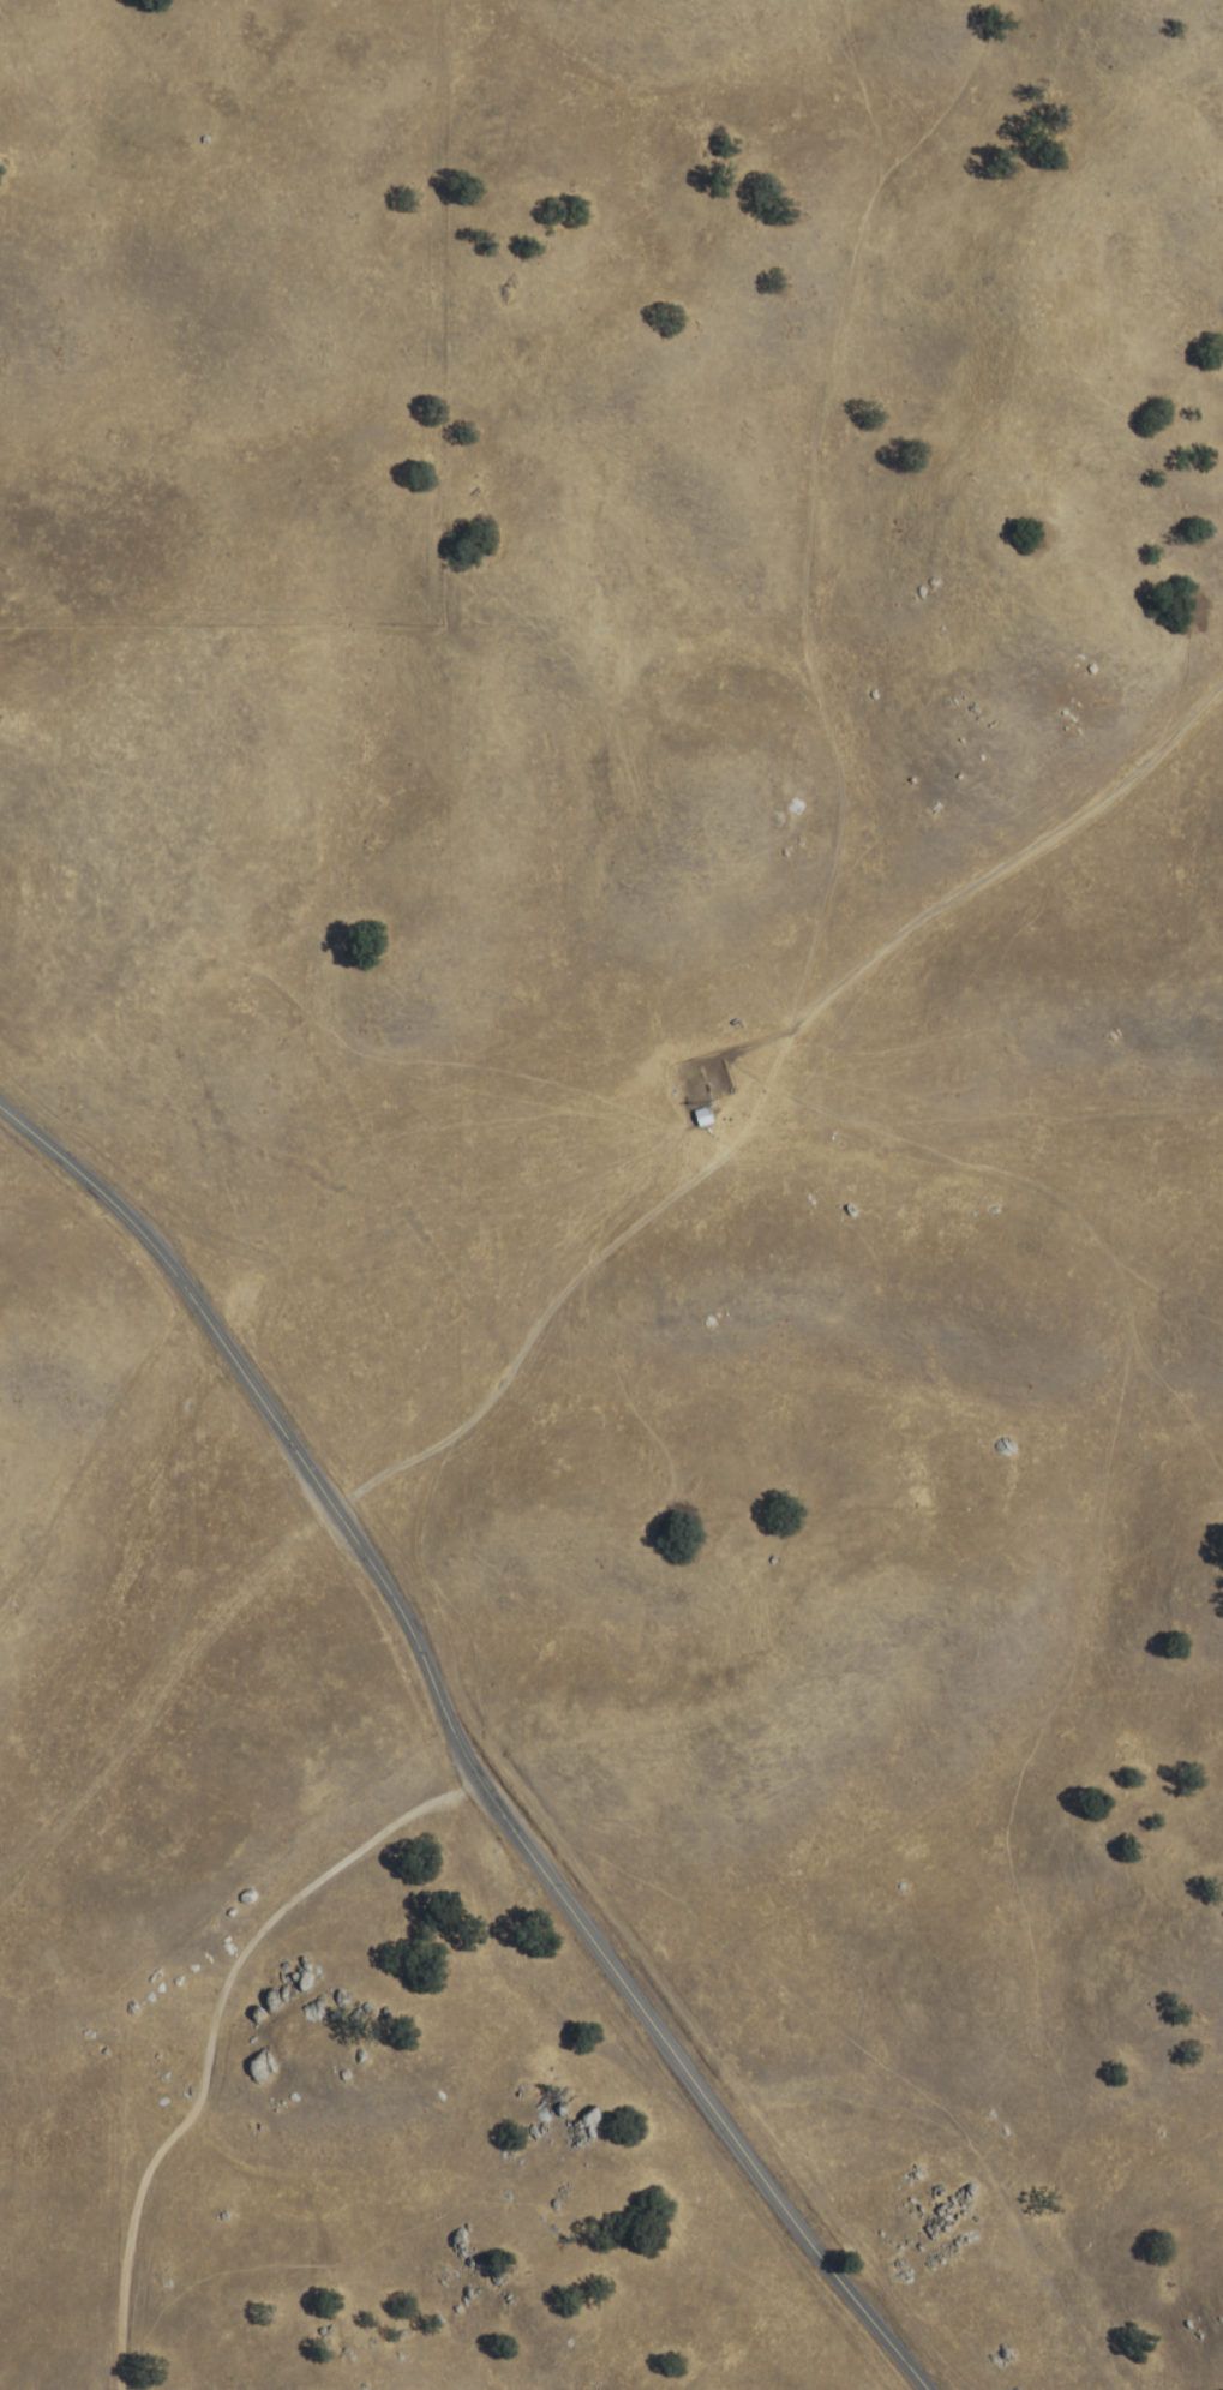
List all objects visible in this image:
road: (775, 1067)
crop: (511, 1348)
road: (509, 1700)

